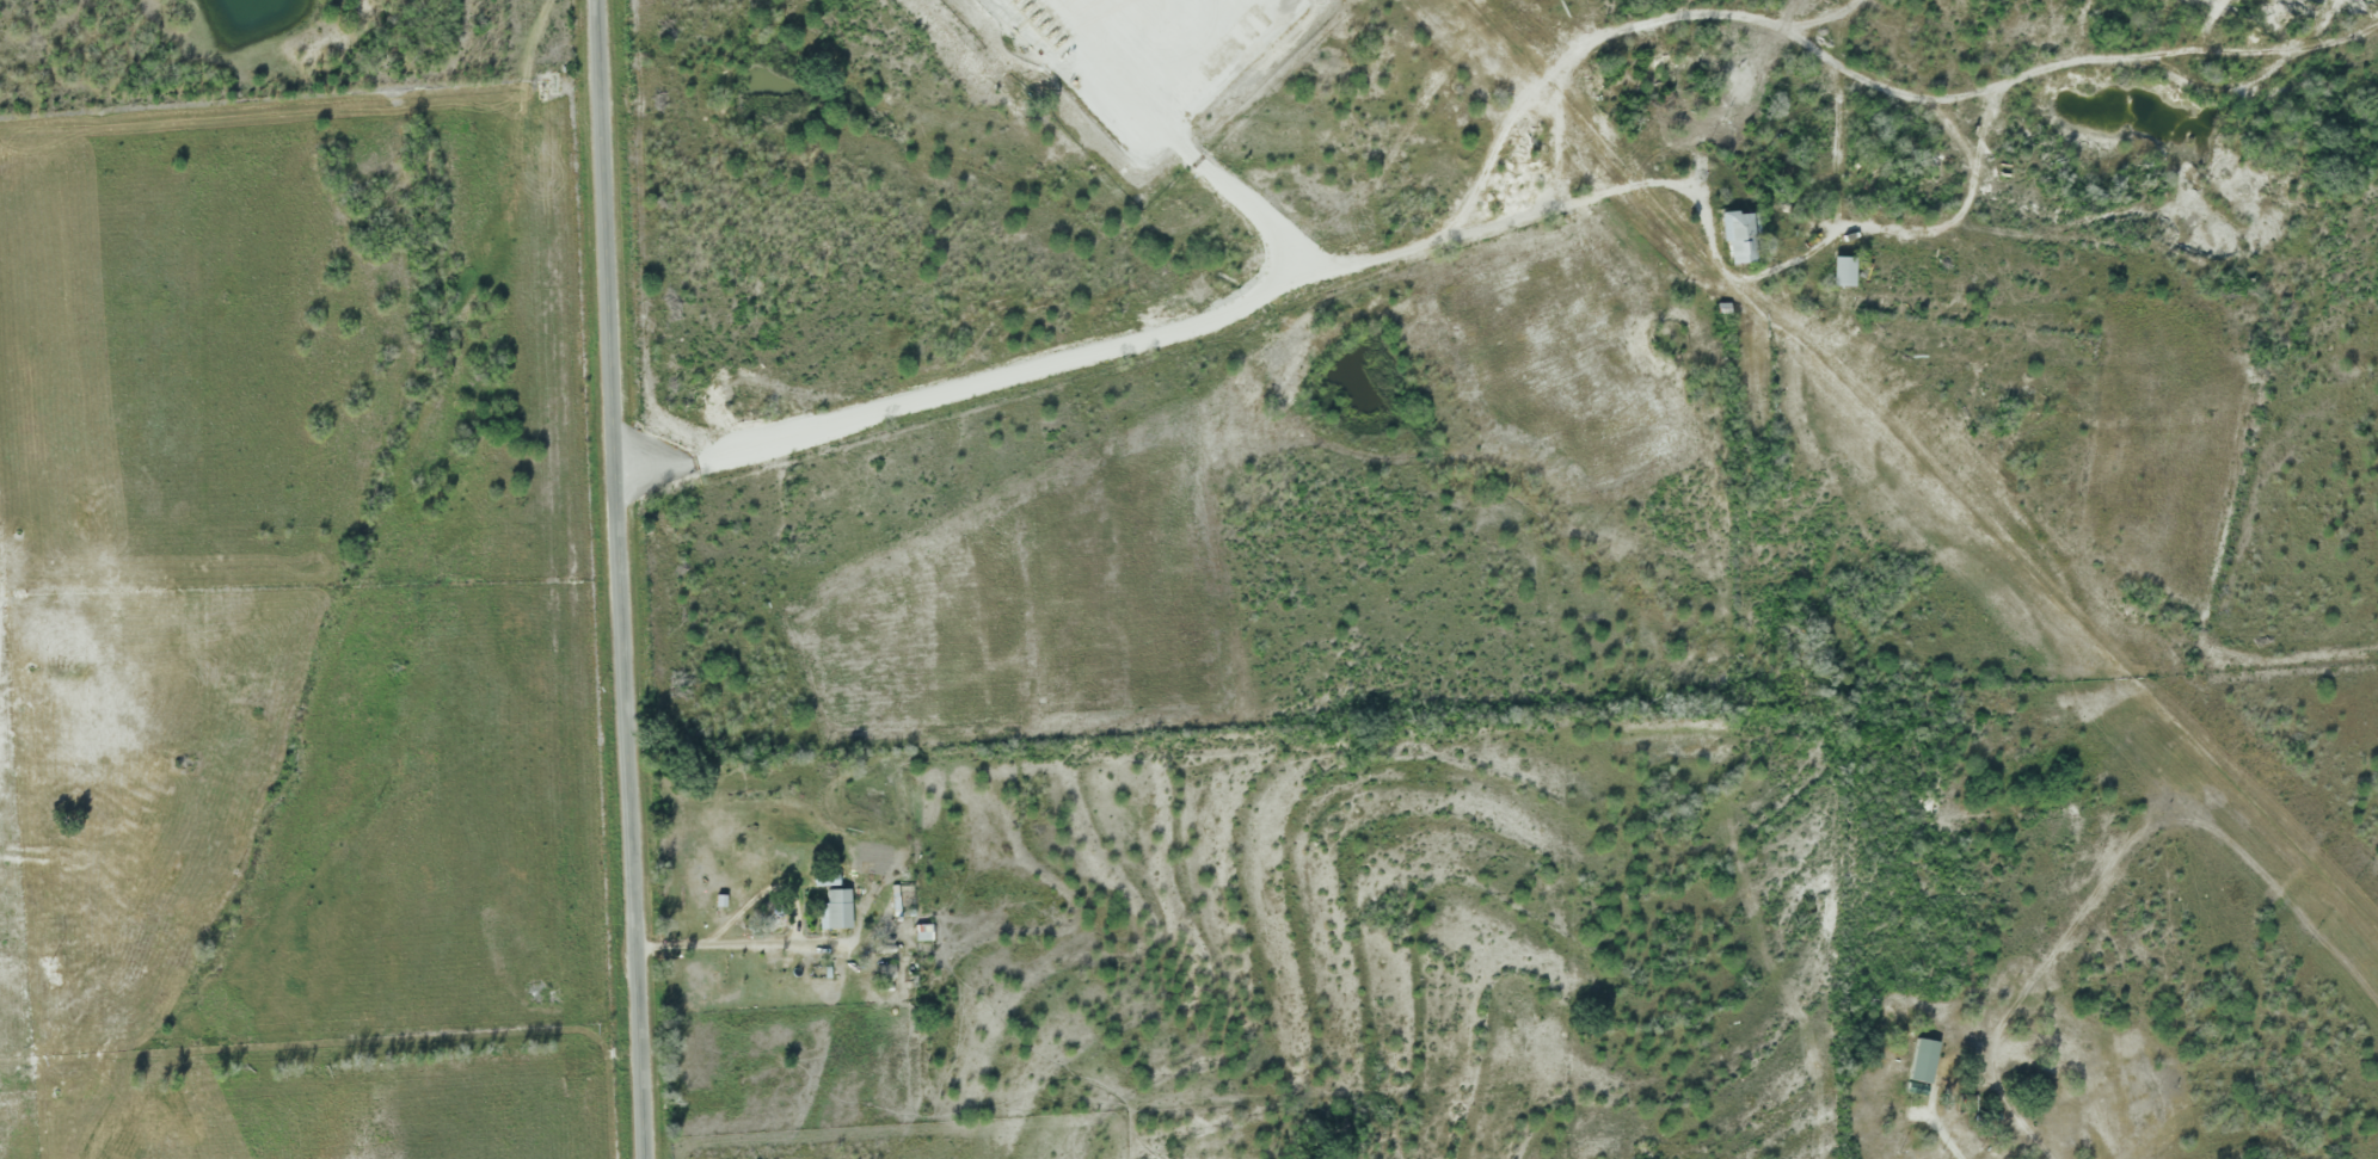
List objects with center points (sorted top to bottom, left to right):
road: (1706, 201)
building: (1735, 239)
building: (1841, 272)
road: (1007, 438)
road: (617, 579)
building: (823, 881)
building: (834, 911)
building: (921, 933)
road: (791, 939)
building: (1921, 1062)
road: (1946, 1135)

